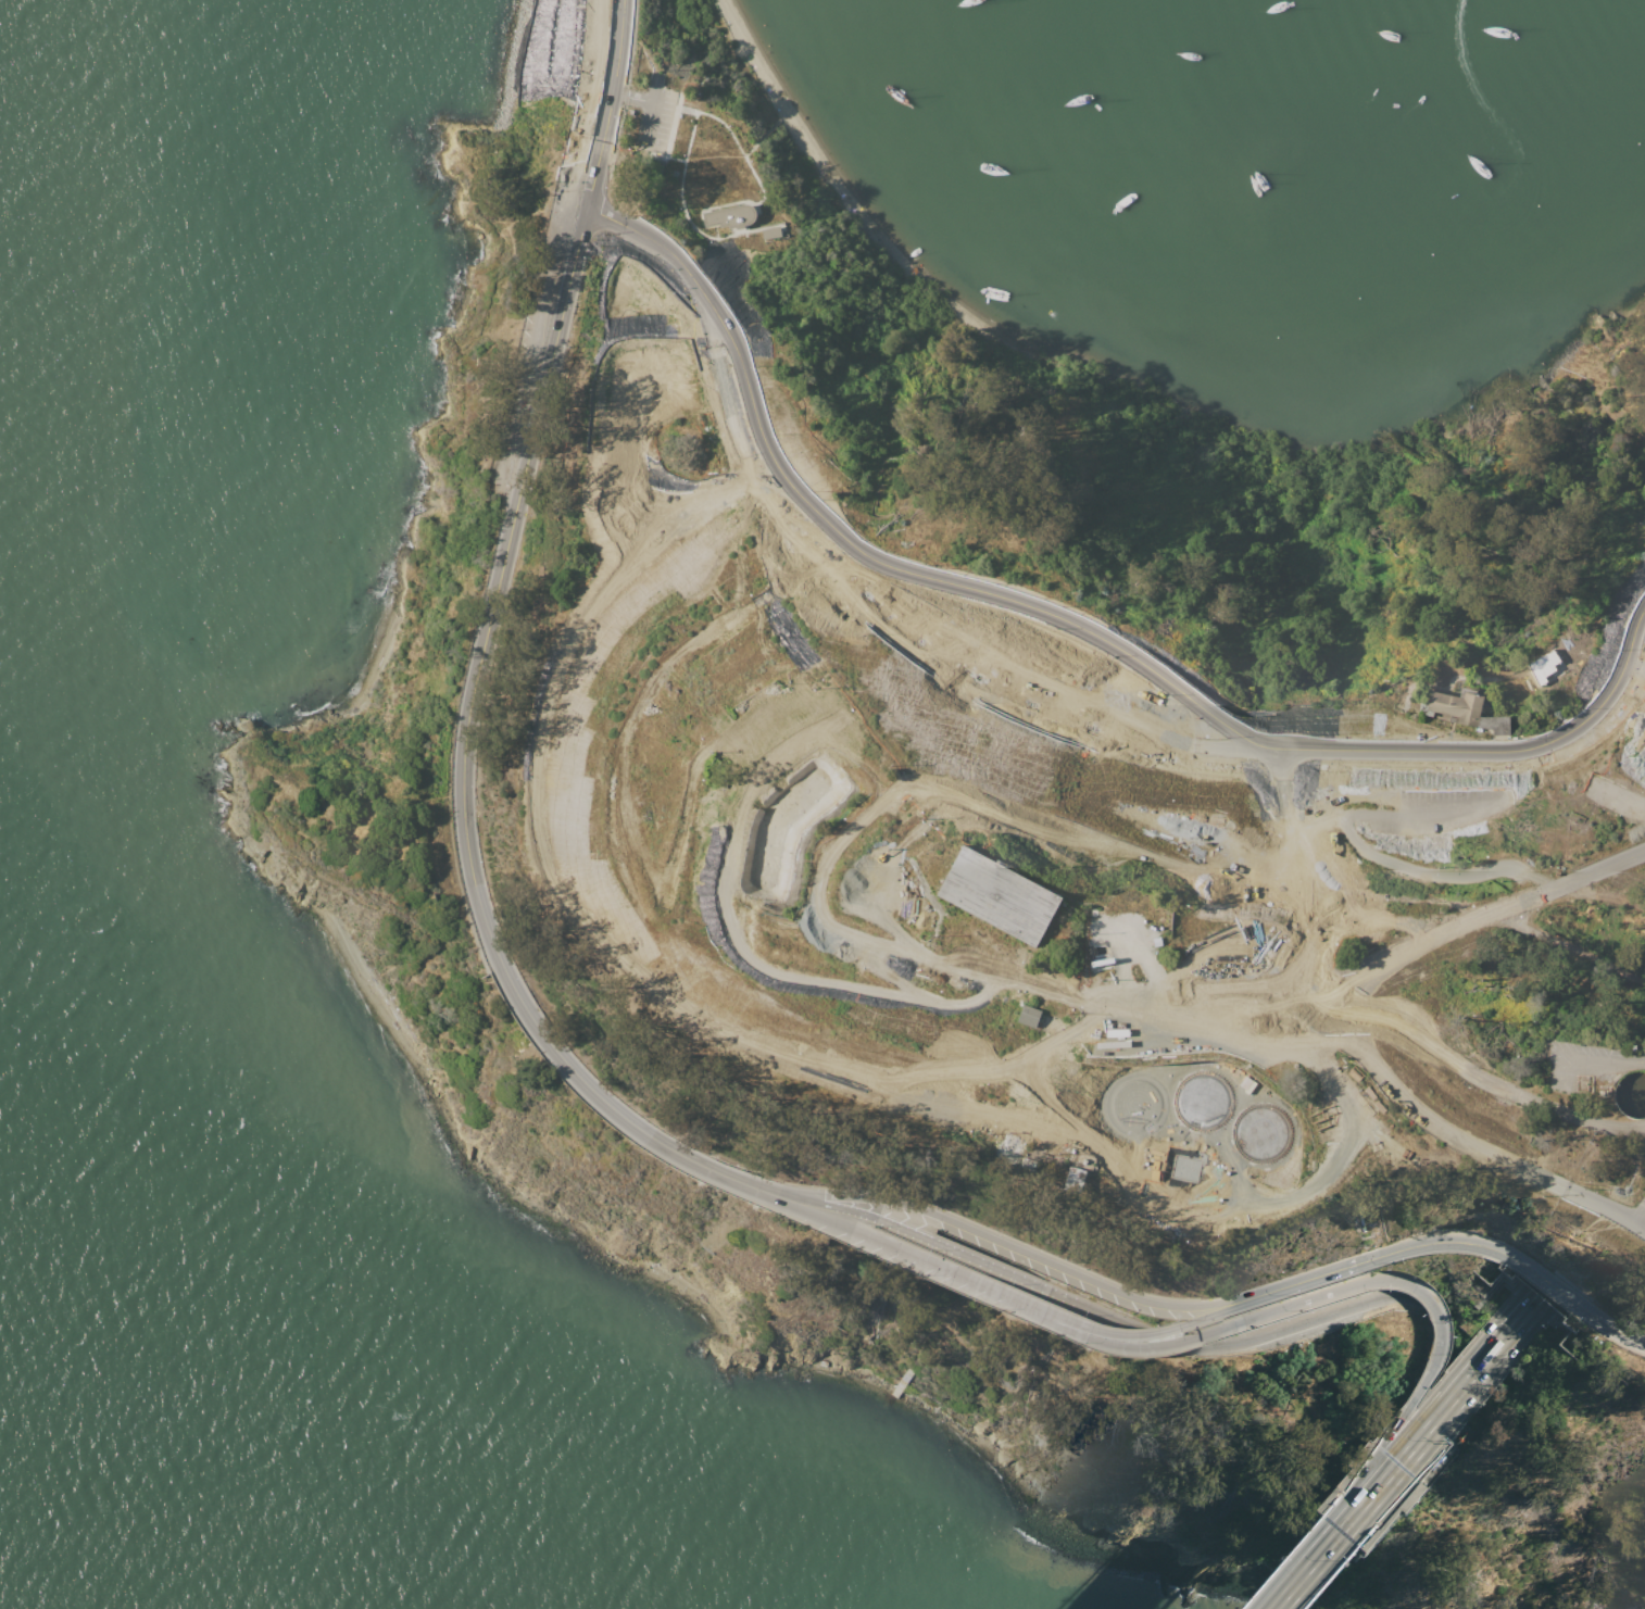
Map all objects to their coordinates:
road: (639, 98)
road: (588, 101)
road: (729, 127)
road: (683, 189)
building: (727, 217)
building: (767, 234)
road: (512, 506)
road: (1056, 618)
road: (1018, 706)
building: (1469, 709)
road: (1477, 792)
building: (995, 895)
road: (1485, 914)
road: (748, 946)
road: (906, 948)
road: (668, 995)
road: (531, 1015)
building: (1030, 1017)
road: (1294, 1042)
building: (1630, 1095)
storage tank: (1630, 1095)
building: (1202, 1099)
storage tank: (1202, 1099)
building: (1135, 1104)
storage tank: (1135, 1104)
building: (1020, 1121)
building: (1261, 1133)
storage tank: (1261, 1133)
road: (703, 1169)
building: (1080, 1179)
road: (745, 1182)
road: (861, 1195)
road: (783, 1201)
road: (824, 1203)
road: (1641, 1219)
road: (1641, 1228)
road: (958, 1255)
road: (934, 1259)
road: (1519, 1265)
road: (1338, 1268)
building: (1498, 1270)
road: (1117, 1287)
road: (1324, 1294)
road: (1239, 1300)
road: (1096, 1322)
road: (1281, 1323)
building: (1565, 1325)
road: (1125, 1341)
building: (901, 1383)
road: (1410, 1404)
road: (1430, 1409)
road: (1444, 1410)
road: (1391, 1458)
road: (1356, 1525)
road: (1297, 1563)
road: (1318, 1570)

